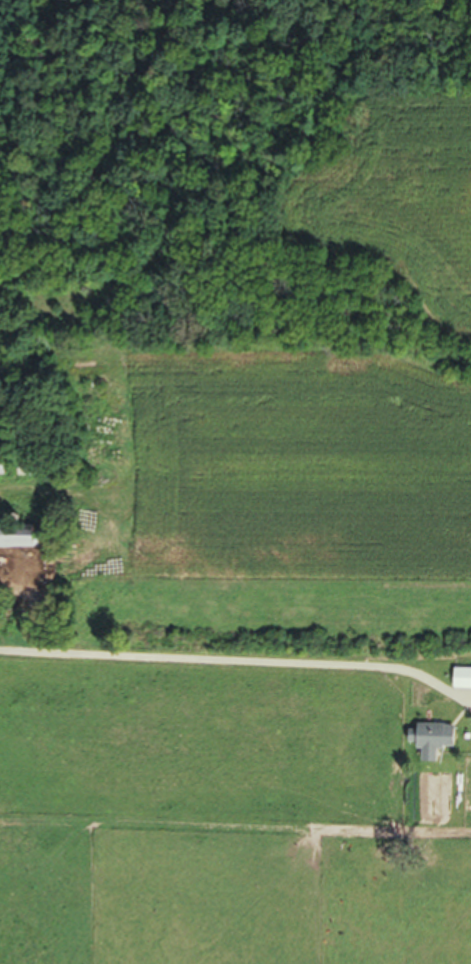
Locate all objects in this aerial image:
road: (240, 668)
building: (461, 685)
building: (437, 744)

